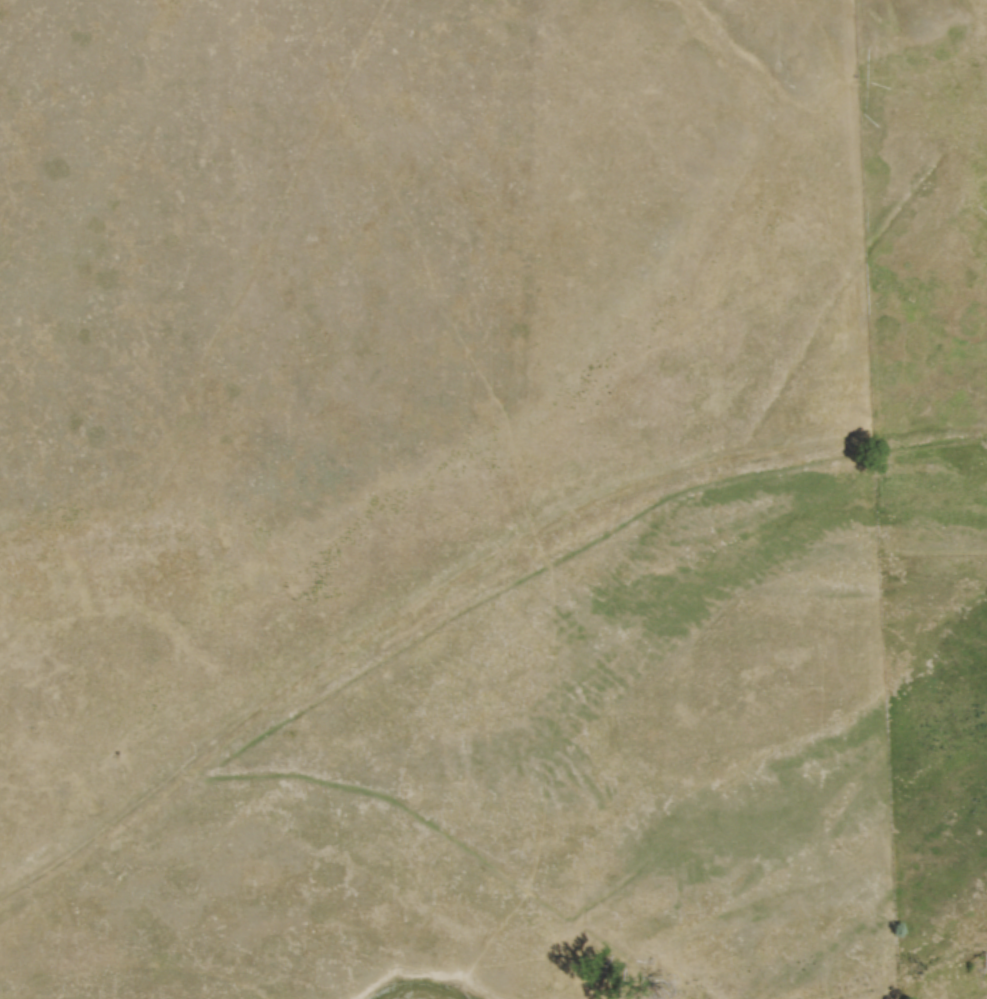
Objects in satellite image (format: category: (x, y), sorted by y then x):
river: (420, 995)

